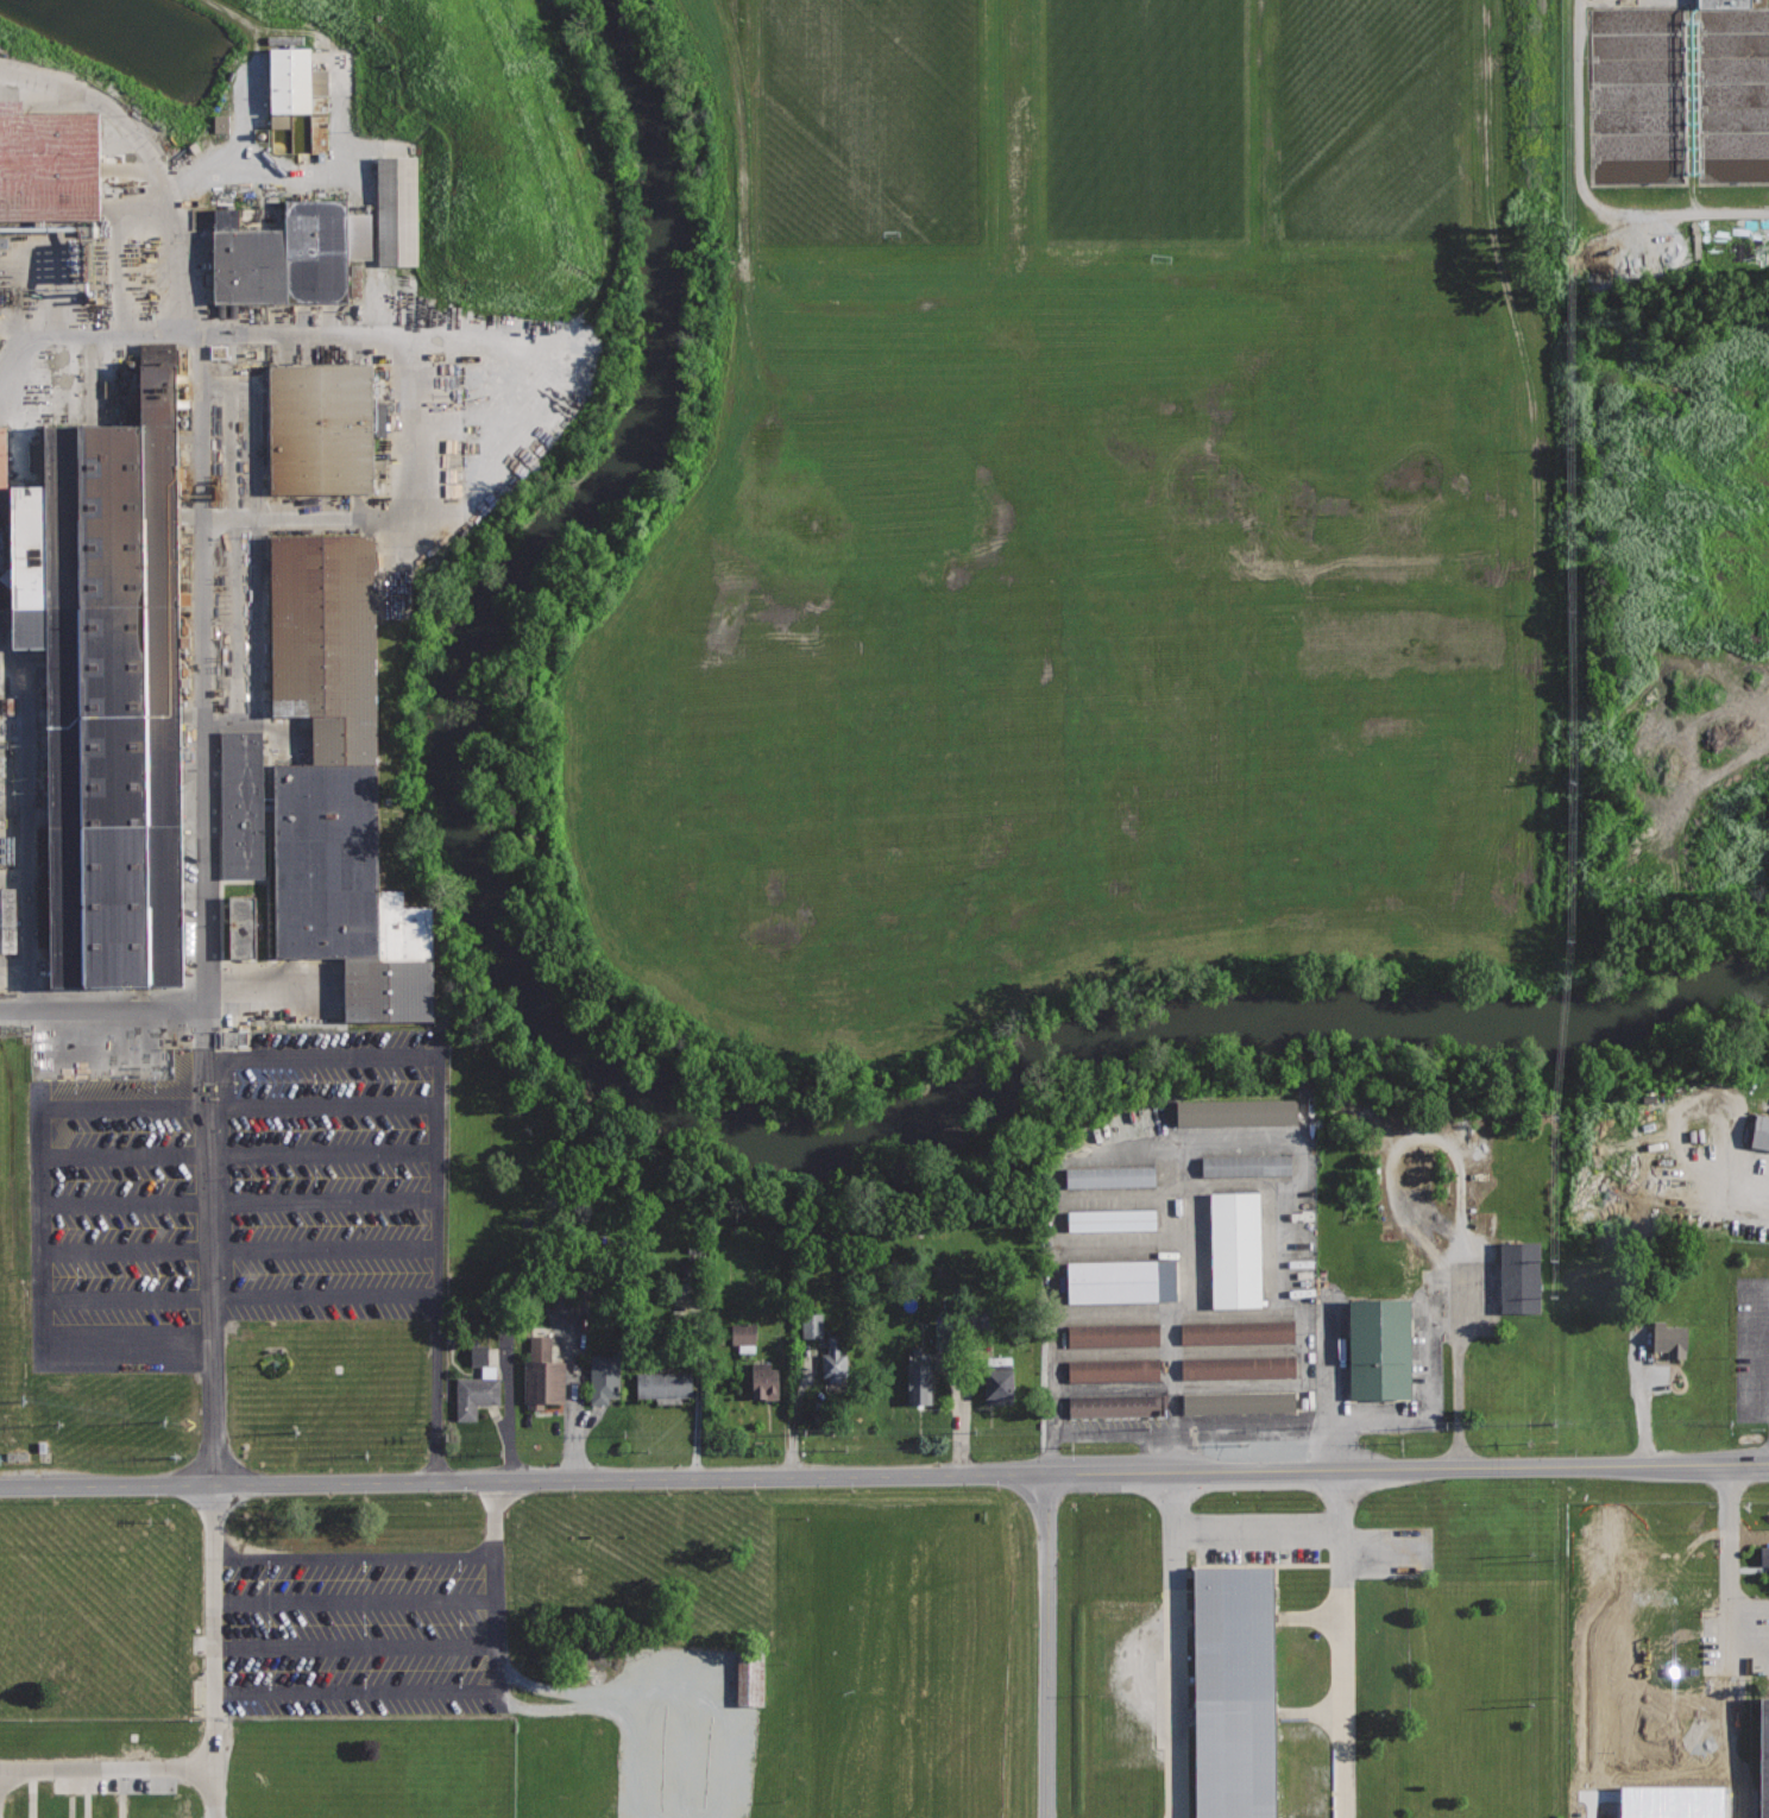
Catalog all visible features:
building: (1725, 2)
building: (292, 87)
building: (1679, 94)
storage tank: (1679, 94)
building: (219, 124)
park: (1135, 125)
park: (1395, 125)
park: (865, 128)
building: (37, 162)
road: (1585, 192)
building: (397, 212)
building: (285, 258)
road: (273, 329)
building: (328, 431)
building: (0, 449)
wastewater plant: (1656, 474)
building: (105, 681)
road: (1674, 747)
building: (330, 790)
road: (25, 827)
road: (203, 896)
building: (6, 920)
building: (235, 924)
road: (102, 1009)
building: (229, 1037)
road: (321, 1055)
river: (617, 1069)
road: (240, 1100)
road: (1693, 1101)
building: (1236, 1110)
building: (1761, 1131)
road: (1188, 1134)
road: (1411, 1138)
road: (240, 1154)
building: (1247, 1164)
road: (435, 1174)
building: (1110, 1176)
parking lot: (233, 1195)
road: (1765, 1202)
road: (241, 1204)
road: (45, 1218)
building: (1112, 1219)
road: (1186, 1223)
building: (1236, 1249)
road: (240, 1250)
building: (1521, 1276)
building: (1121, 1280)
parking lot: (1182, 1287)
road: (240, 1294)
building: (558, 1300)
road: (1496, 1301)
road: (1238, 1311)
building: (810, 1326)
parking lot: (1469, 1327)
building: (972, 1330)
road: (1171, 1332)
building: (1238, 1332)
road: (128, 1333)
building: (1113, 1334)
building: (741, 1337)
building: (1672, 1337)
building: (1380, 1347)
parking lot: (1752, 1351)
building: (833, 1363)
building: (995, 1363)
building: (1239, 1365)
road: (1458, 1365)
building: (1114, 1370)
parking lot: (1332, 1374)
building: (543, 1375)
building: (605, 1377)
road: (1330, 1377)
building: (763, 1380)
building: (919, 1381)
building: (1000, 1383)
building: (665, 1384)
building: (478, 1385)
road: (436, 1388)
road: (1429, 1395)
road: (1645, 1399)
building: (1239, 1402)
building: (1114, 1404)
road: (1178, 1433)
road: (885, 1476)
road: (1731, 1502)
road: (1258, 1539)
road: (1750, 1540)
road: (1387, 1555)
road: (354, 1557)
building: (1763, 1557)
road: (1731, 1591)
road: (355, 1596)
parking lot: (1738, 1603)
road: (1308, 1617)
park: (883, 1622)
parking lot: (348, 1631)
road: (357, 1643)
road: (1343, 1643)
road: (1172, 1645)
road: (1047, 1646)
park: (781, 1647)
parking lot: (1265, 1653)
road: (1731, 1659)
building: (748, 1678)
road: (358, 1687)
building: (1233, 1691)
road: (511, 1698)
road: (1309, 1715)
parking lot: (681, 1731)
building: (1765, 1759)
park: (887, 1767)
road: (108, 1768)
parking lot: (1053, 1816)

